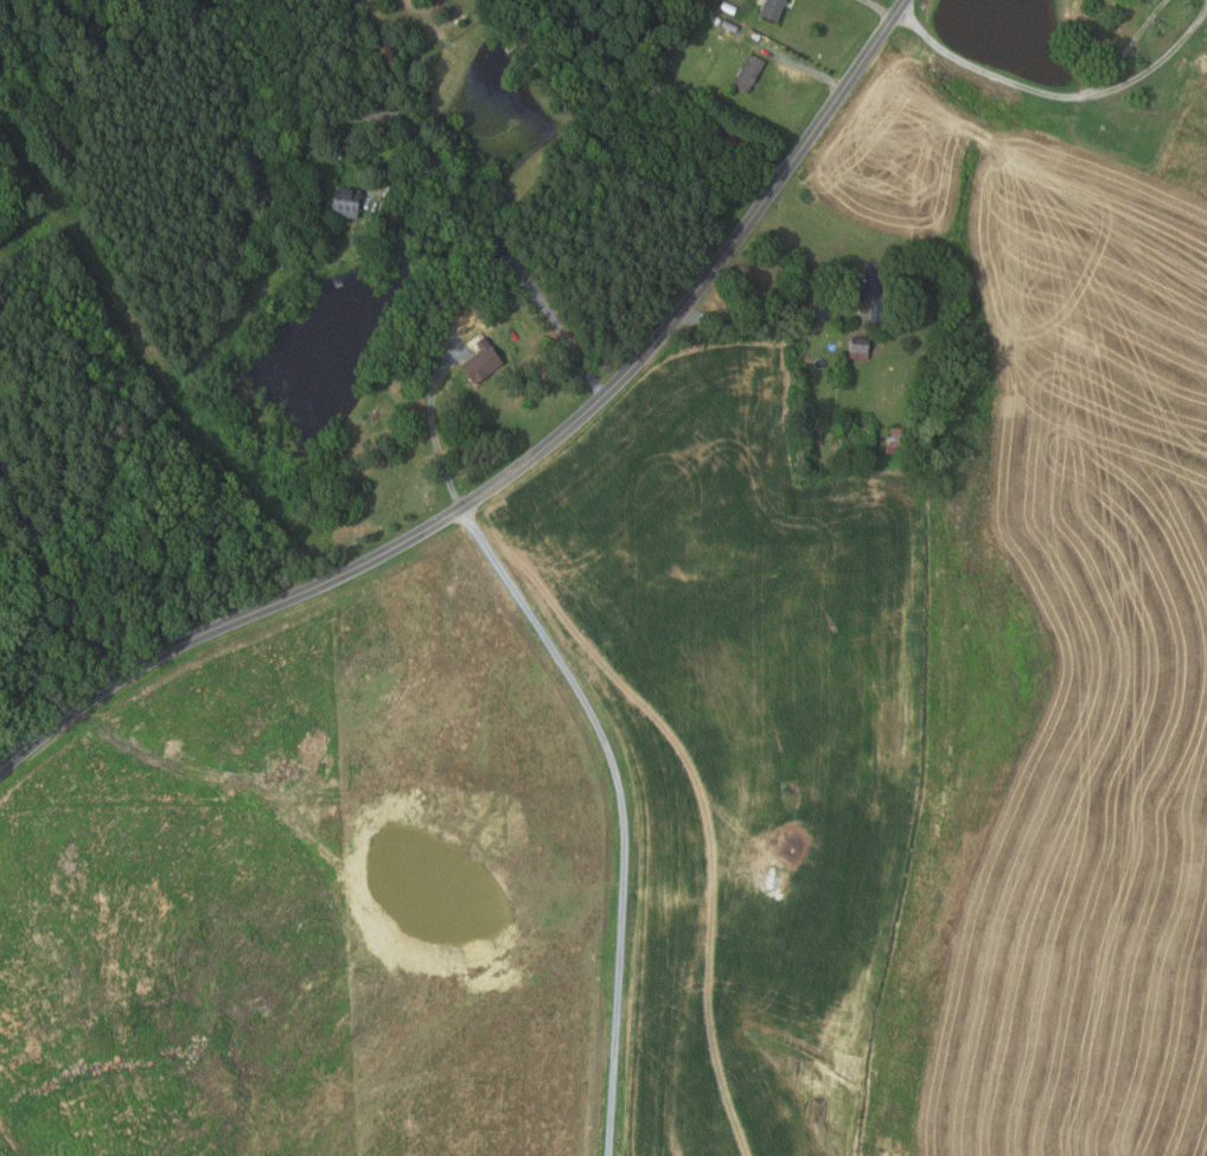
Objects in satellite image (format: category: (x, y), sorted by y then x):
building: (727, 8)
road: (879, 8)
building: (771, 9)
road: (1128, 47)
road: (1157, 63)
road: (805, 68)
road: (985, 71)
building: (746, 74)
building: (1200, 78)
road: (621, 113)
road: (332, 120)
crop: (889, 155)
building: (1186, 160)
building: (350, 200)
building: (875, 290)
road: (769, 312)
building: (857, 349)
building: (478, 359)
road: (429, 429)
building: (895, 439)
road: (519, 466)
road: (50, 562)
crop: (1073, 698)
crop: (737, 729)
road: (13, 733)
road: (622, 810)

